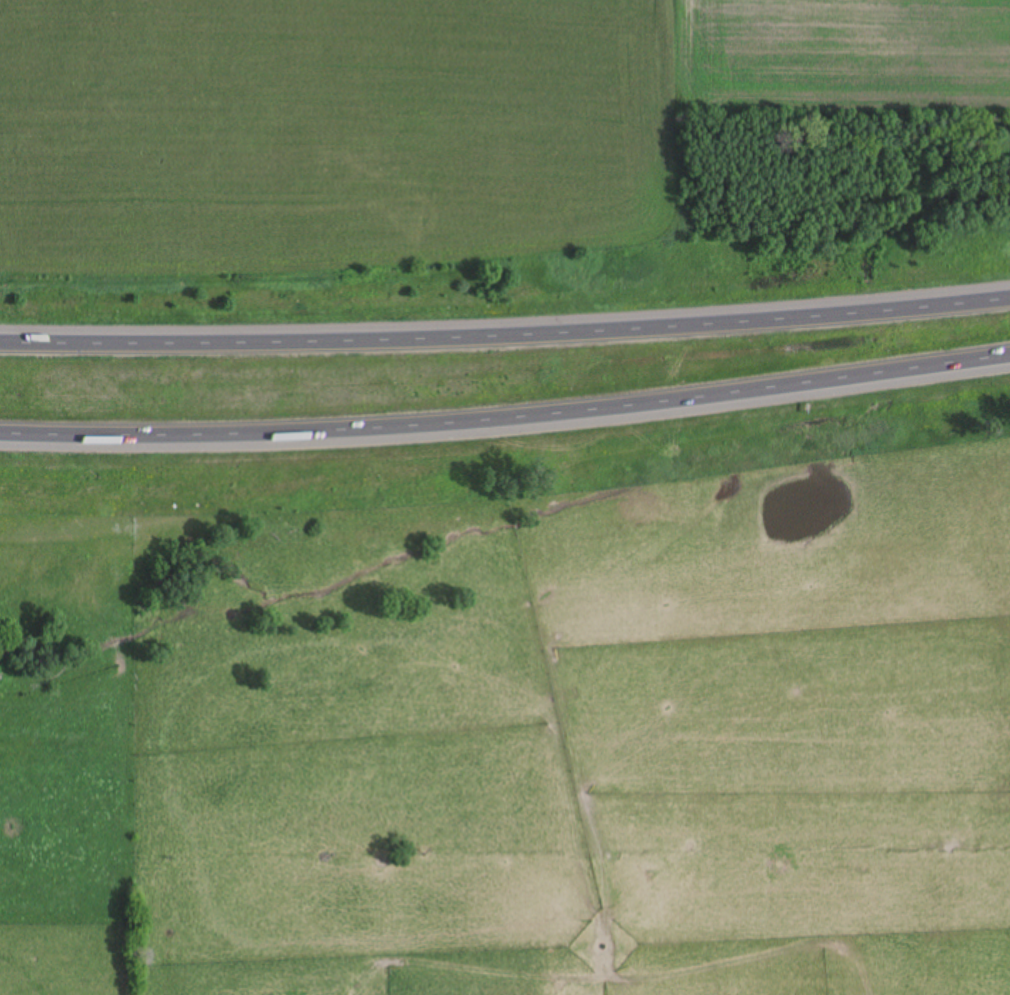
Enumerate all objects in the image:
crop: (425, 120)
road: (505, 335)
road: (506, 418)

